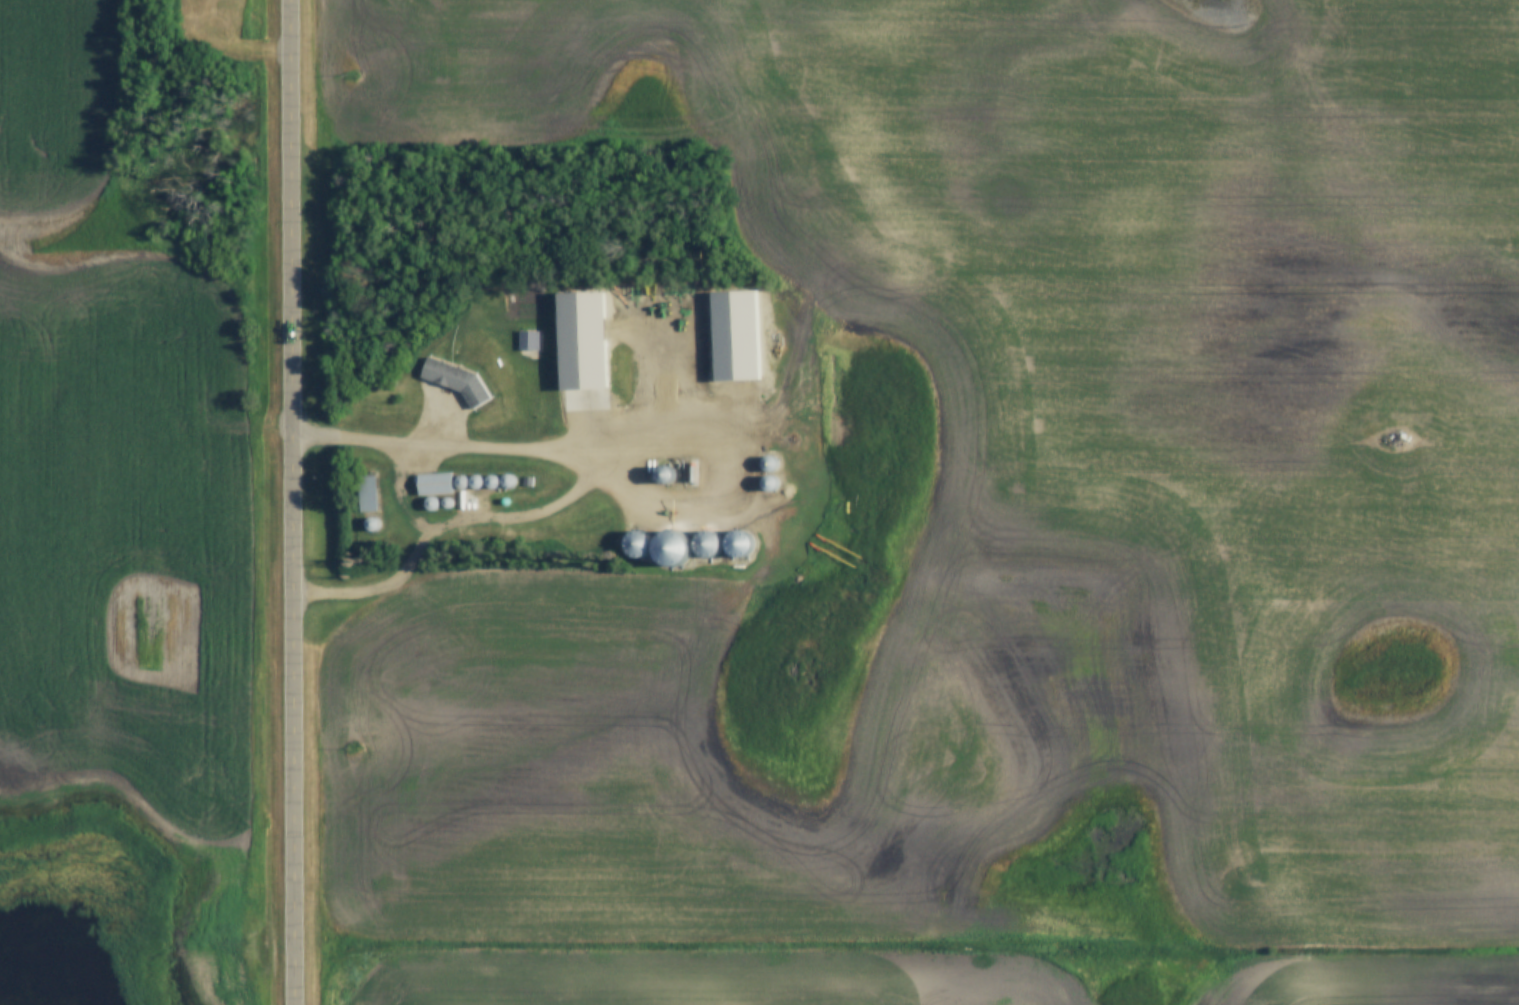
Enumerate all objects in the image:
building: (735, 334)
building: (532, 341)
building: (590, 347)
building: (463, 382)
road: (377, 446)
building: (438, 485)
road: (301, 502)
building: (376, 525)
building: (716, 544)
building: (748, 544)
building: (649, 550)

